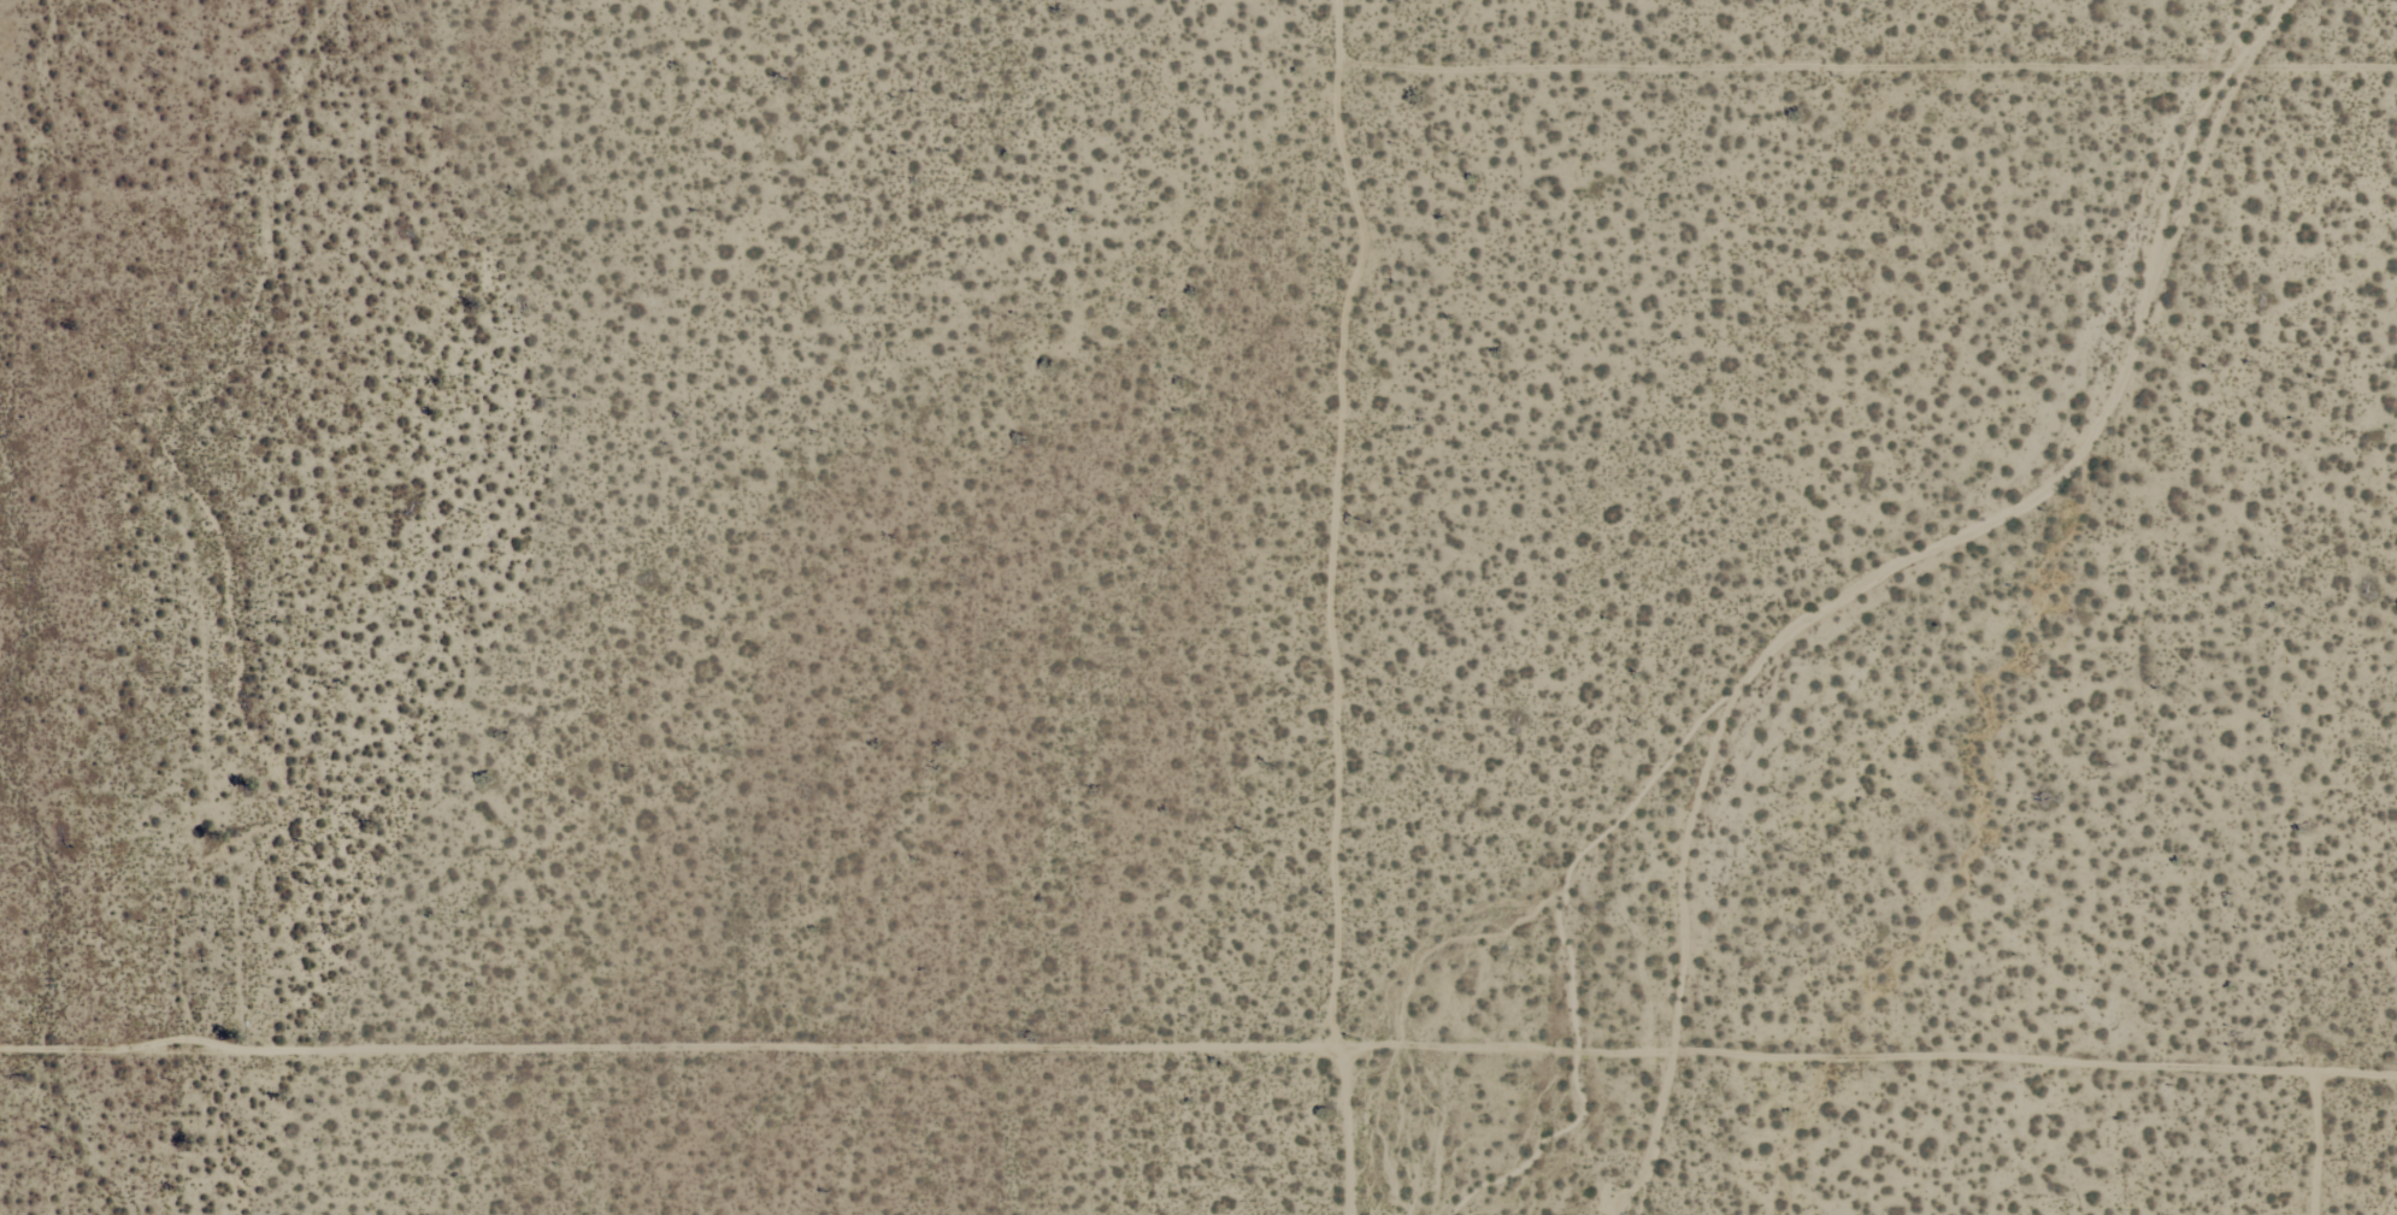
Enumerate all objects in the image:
road: (1867, 67)
road: (1336, 607)
road: (666, 1061)
road: (1865, 1061)
road: (2311, 1143)

